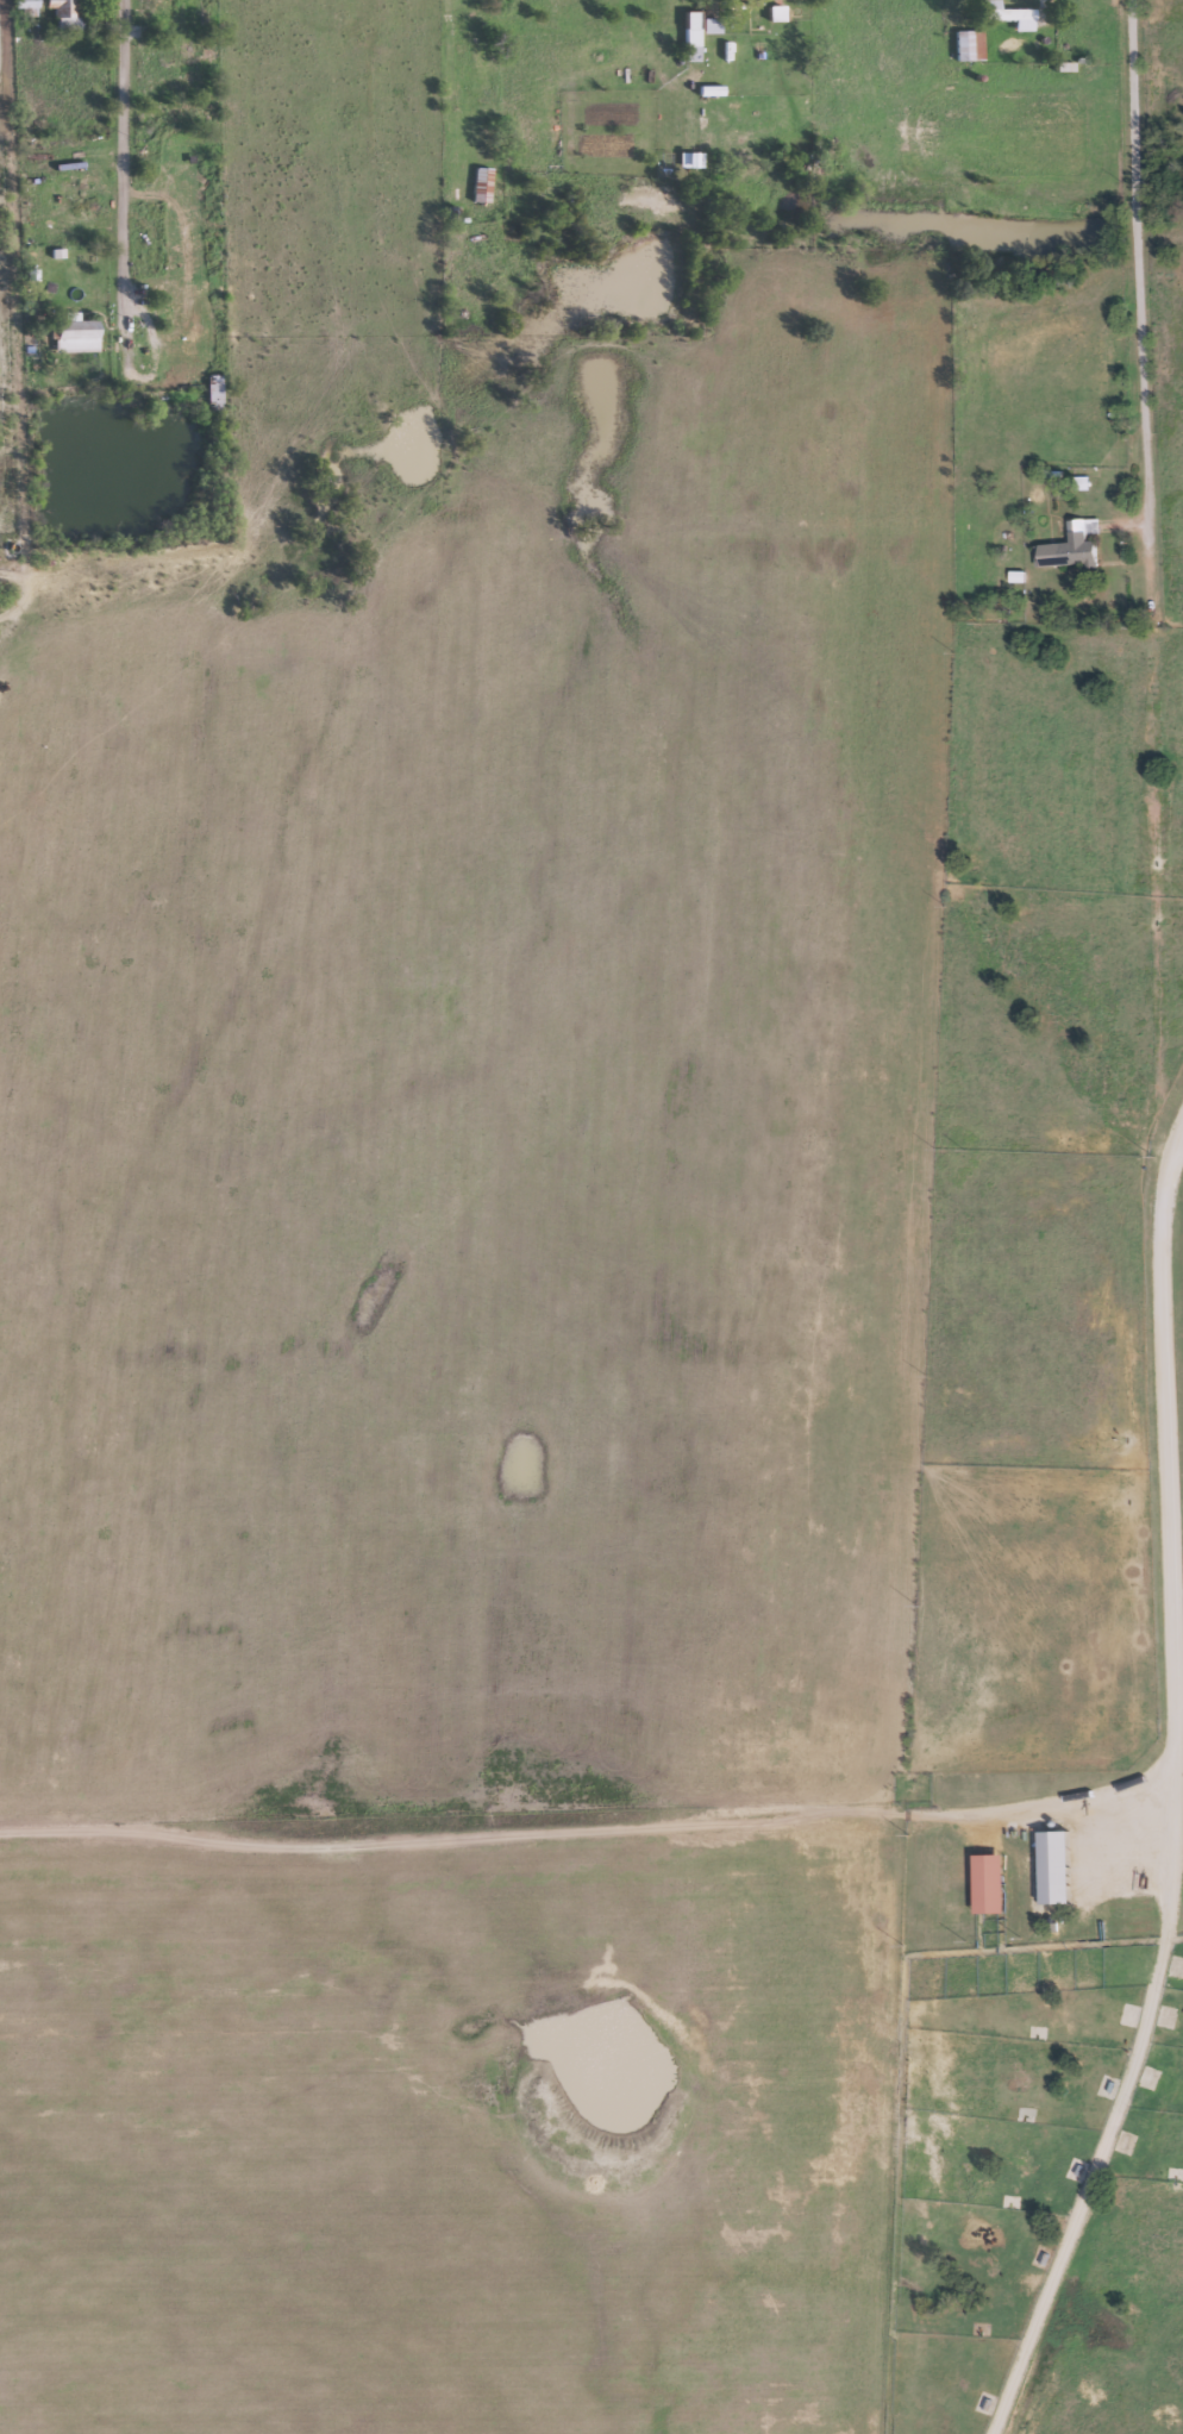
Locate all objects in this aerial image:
building: (23, 5)
building: (61, 12)
building: (161, 13)
building: (1006, 14)
building: (470, 23)
building: (708, 25)
building: (689, 37)
building: (966, 45)
road: (446, 82)
road: (119, 150)
building: (688, 159)
building: (478, 186)
building: (167, 300)
building: (73, 334)
road: (12, 357)
road: (139, 374)
building: (211, 392)
building: (1070, 545)
road: (1143, 587)
road: (1171, 1147)
road: (1169, 1819)
road: (601, 1828)
building: (1054, 1866)
building: (989, 1883)
building: (1164, 2016)
building: (1104, 2085)
building: (1122, 2141)
building: (1070, 2170)
building: (1172, 2173)

